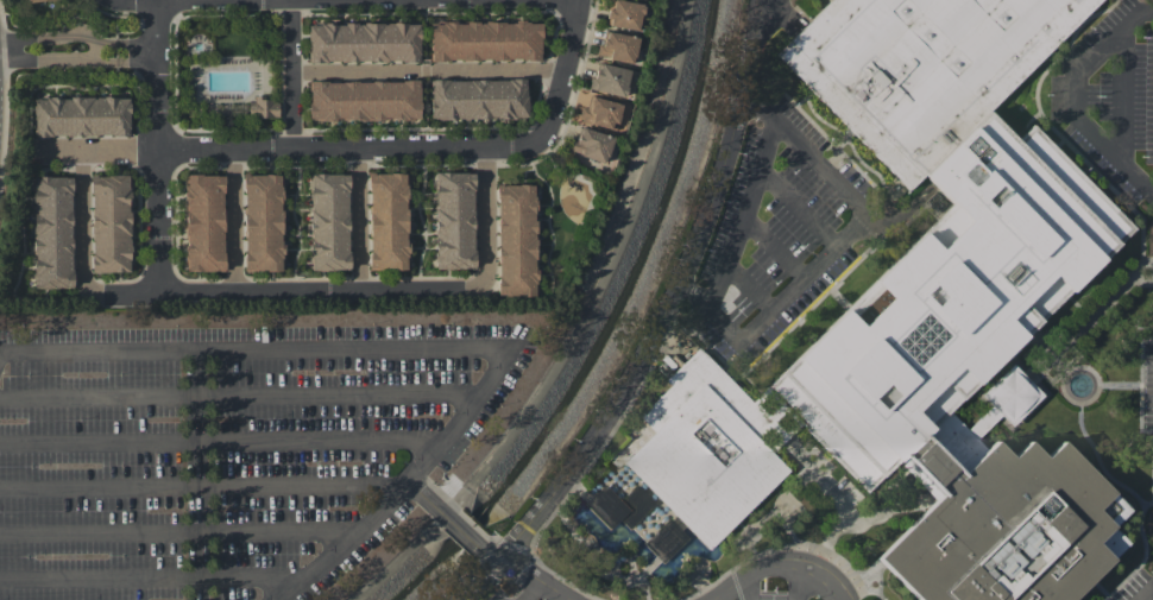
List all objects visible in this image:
building: (30, 0)
road: (223, 0)
road: (141, 4)
building: (623, 14)
road: (77, 36)
building: (484, 39)
building: (363, 42)
building: (617, 46)
road: (77, 62)
road: (429, 70)
road: (292, 71)
road: (158, 74)
building: (610, 78)
road: (561, 96)
building: (478, 99)
building: (363, 100)
road: (1083, 102)
road: (1133, 103)
building: (264, 107)
building: (600, 113)
building: (90, 120)
building: (591, 144)
road: (226, 145)
road: (121, 146)
road: (392, 146)
road: (87, 215)
road: (160, 219)
road: (232, 219)
road: (359, 219)
road: (492, 219)
building: (453, 220)
building: (385, 221)
building: (328, 222)
building: (203, 223)
building: (260, 223)
building: (120, 228)
building: (53, 229)
building: (525, 244)
road: (833, 247)
road: (283, 291)
road: (670, 301)
building: (934, 315)
road: (430, 348)
road: (1056, 392)
road: (239, 402)
road: (222, 443)
parking lot: (232, 453)
road: (201, 490)
road: (426, 497)
road: (461, 530)
road: (170, 537)
road: (787, 568)
road: (524, 575)
road: (475, 581)
road: (147, 583)
road: (799, 583)
parking lot: (1134, 586)
road: (1141, 588)
road: (525, 590)
road: (746, 594)
parking lot: (499, 595)

